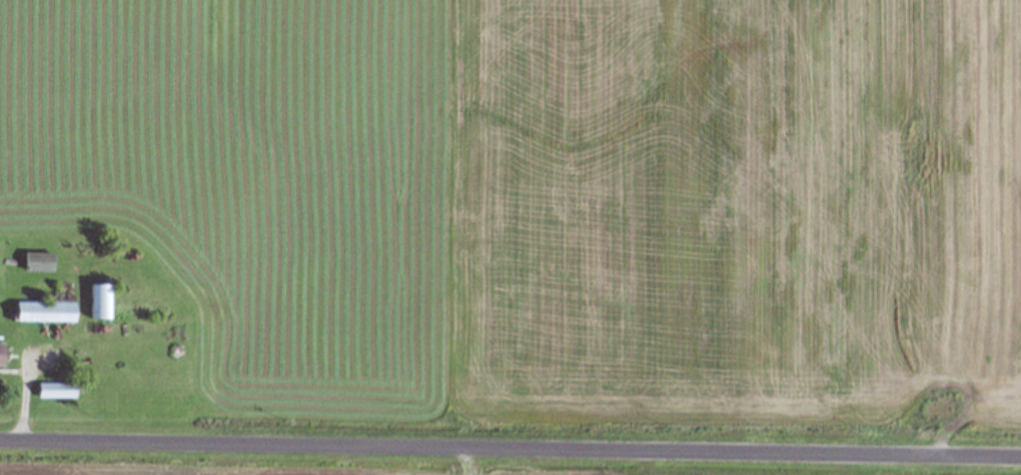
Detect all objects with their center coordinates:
building: (35, 262)
building: (97, 302)
building: (41, 312)
building: (52, 391)
road: (510, 447)

